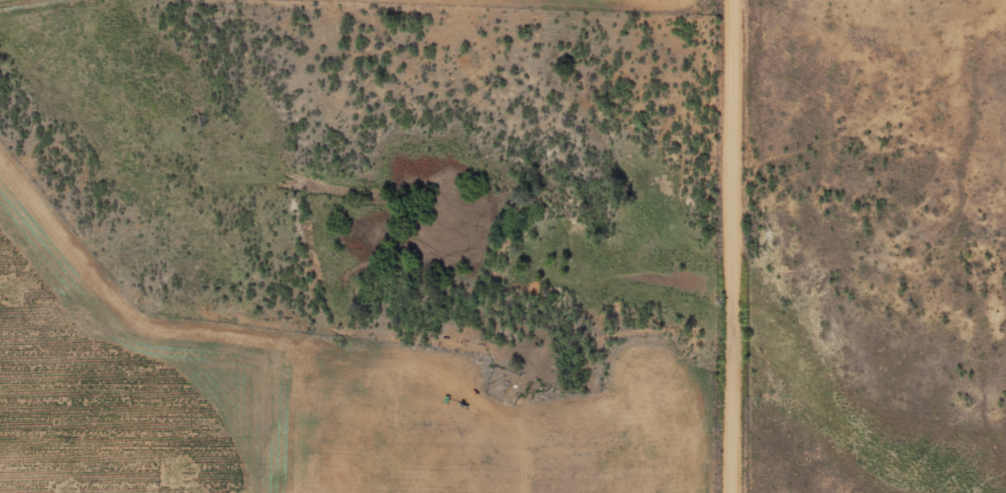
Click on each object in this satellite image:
road: (734, 246)

